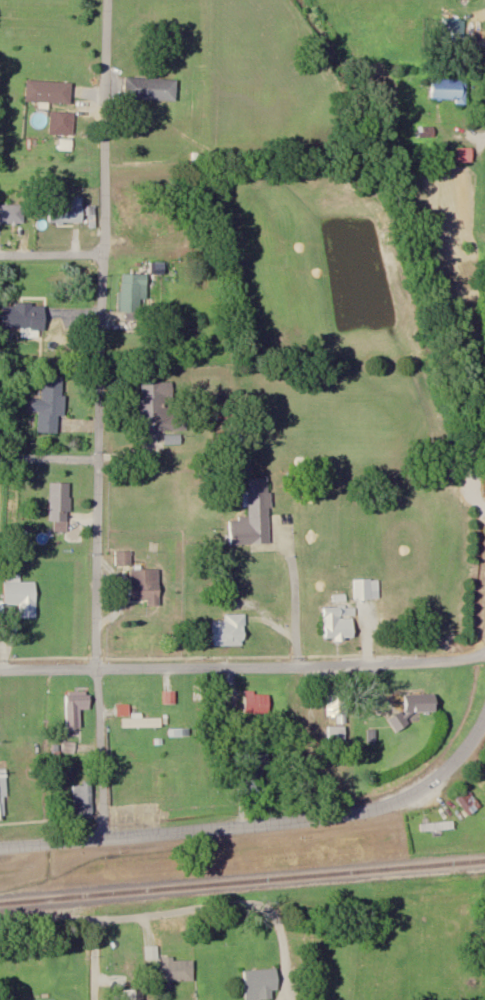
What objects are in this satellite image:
building: (151, 88)
building: (449, 90)
building: (49, 91)
building: (62, 123)
building: (466, 154)
building: (68, 211)
building: (12, 214)
building: (136, 220)
road: (52, 255)
building: (133, 295)
building: (24, 316)
building: (51, 403)
building: (160, 408)
road: (100, 419)
building: (233, 436)
road: (50, 457)
building: (60, 502)
building: (254, 516)
building: (123, 558)
building: (146, 585)
building: (367, 589)
building: (23, 597)
road: (295, 601)
building: (340, 623)
building: (230, 631)
road: (243, 667)
building: (337, 705)
building: (77, 707)
building: (416, 708)
building: (142, 722)
road: (479, 725)
building: (253, 774)
building: (140, 775)
building: (84, 800)
building: (469, 801)
building: (0, 810)
road: (47, 820)
road: (250, 824)
building: (437, 826)
railway: (242, 881)
road: (119, 917)
road: (94, 960)
building: (176, 971)
building: (262, 984)
building: (134, 995)
building: (39, 997)

